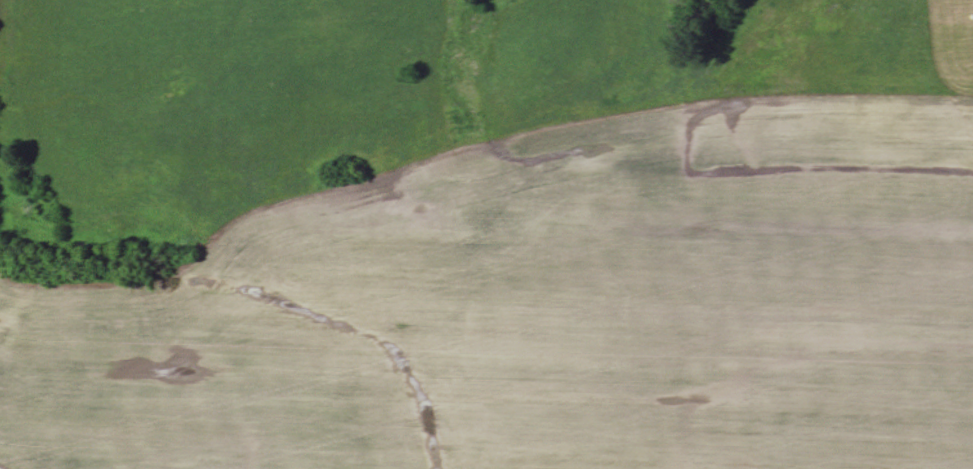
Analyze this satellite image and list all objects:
crop: (548, 307)

